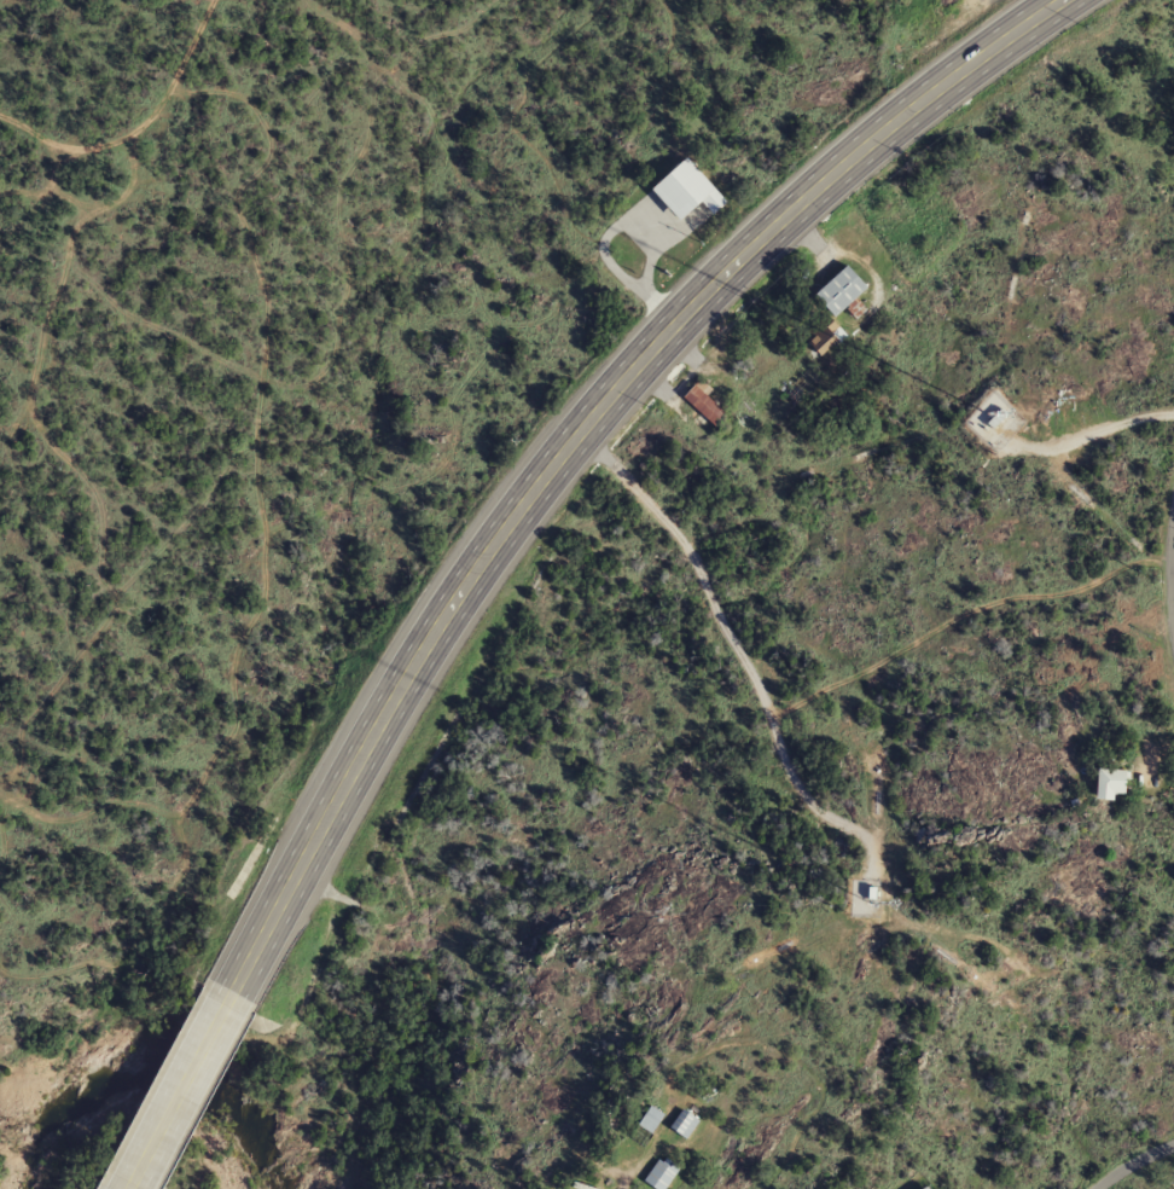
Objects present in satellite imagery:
building: (688, 191)
building: (841, 291)
building: (826, 336)
building: (795, 395)
building: (705, 405)
building: (988, 414)
road: (564, 435)
road: (1168, 568)
road: (730, 648)
building: (1111, 782)
road: (179, 1092)
building: (651, 1119)
building: (685, 1123)
road: (1127, 1159)
building: (661, 1173)
road: (614, 1184)

